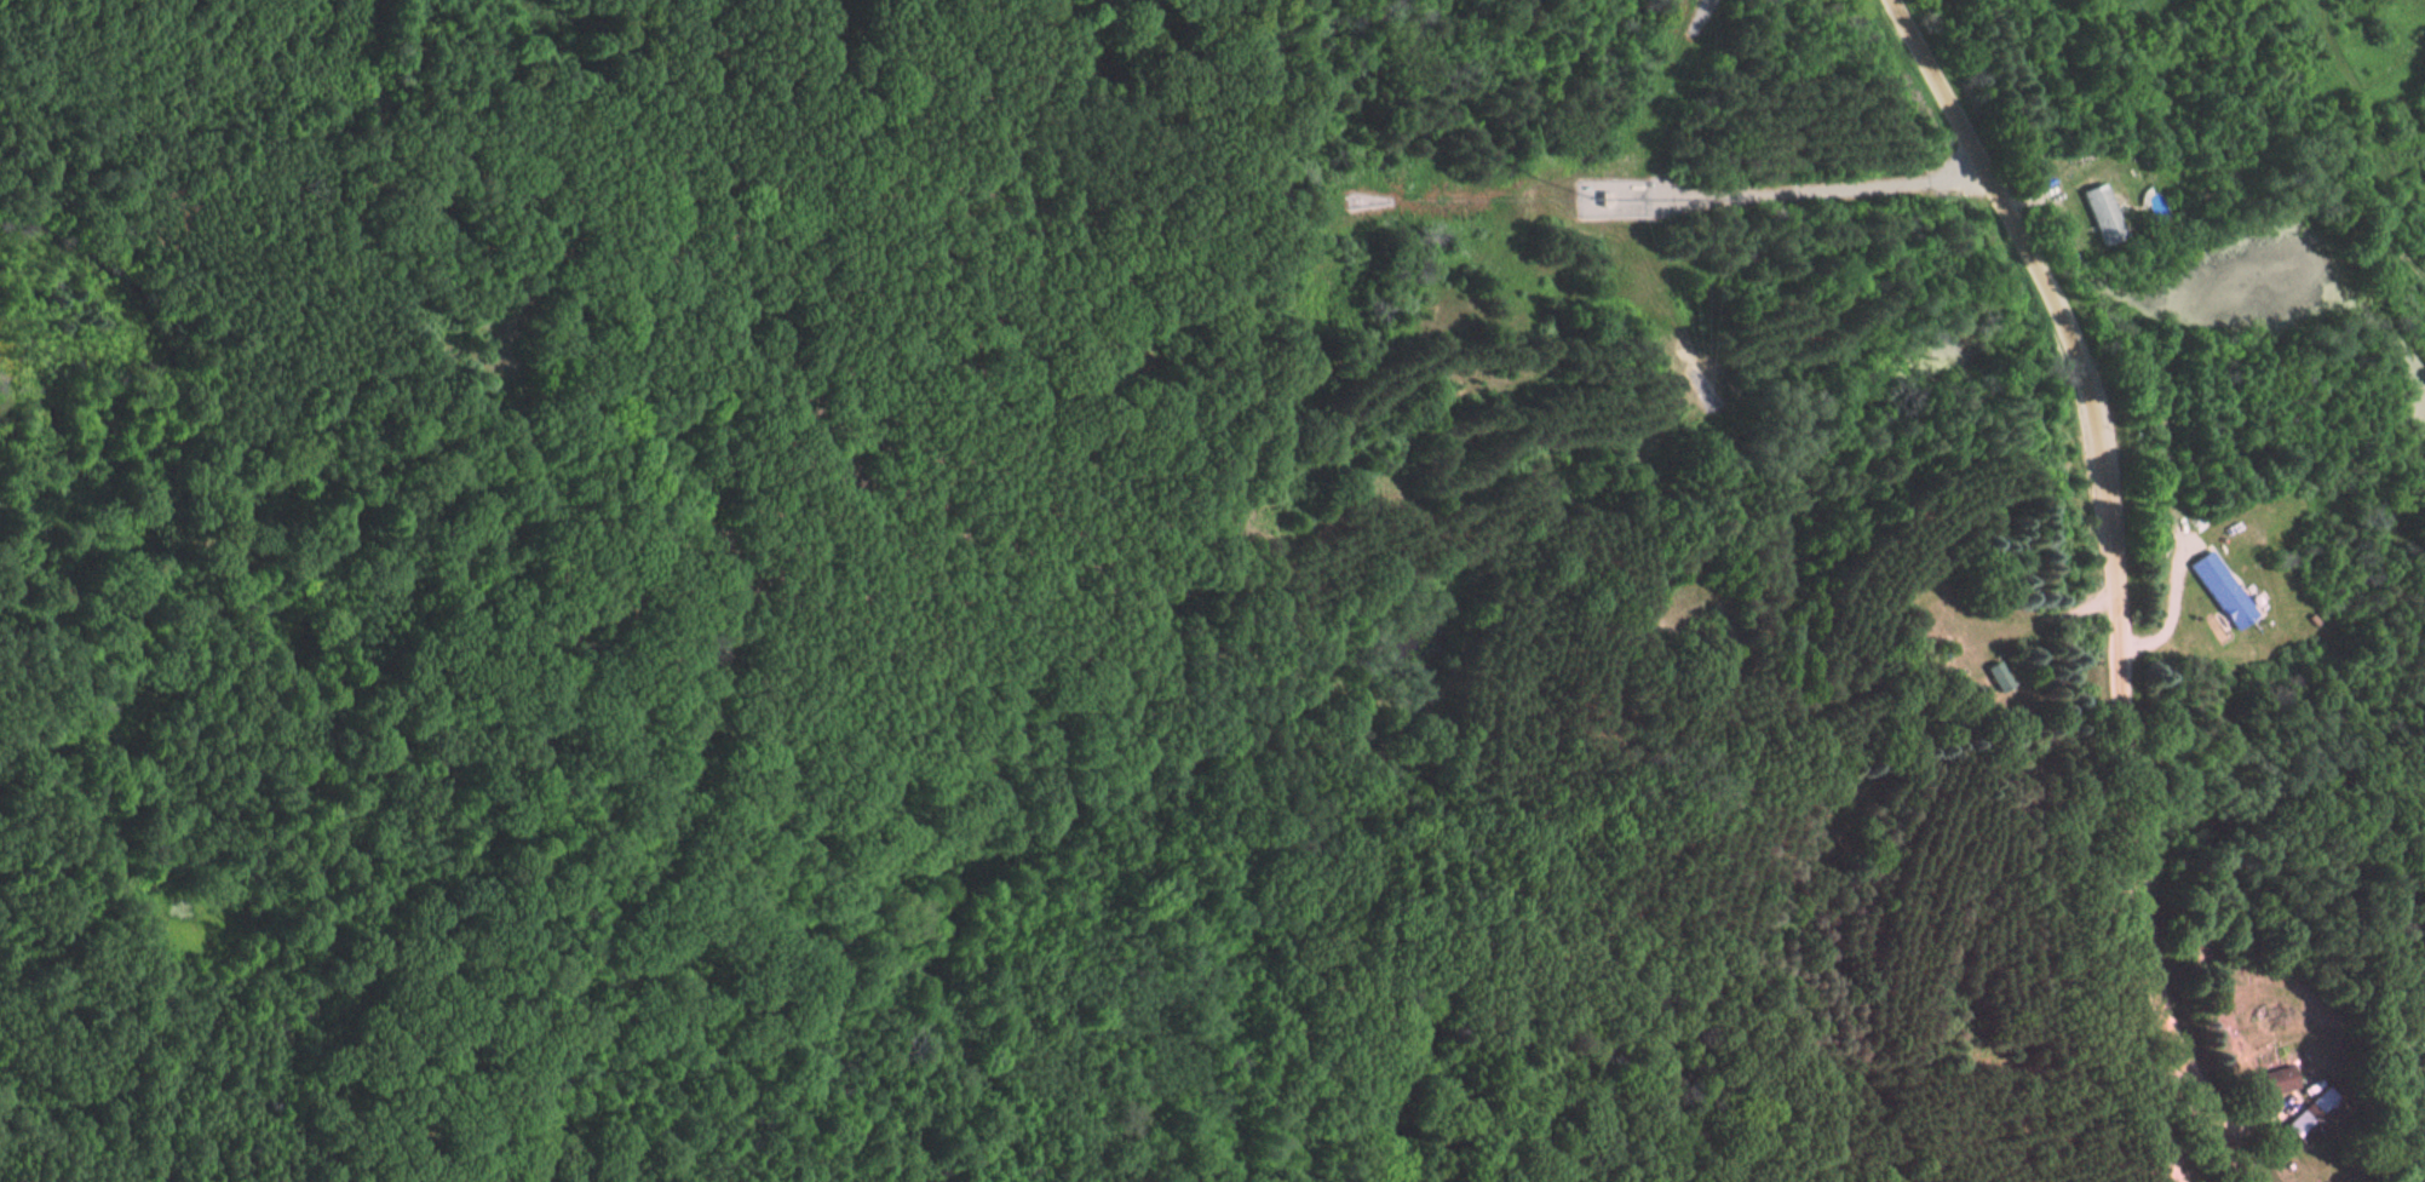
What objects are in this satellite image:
building: (2098, 216)
road: (2122, 581)
building: (2217, 592)
building: (2282, 1080)
road: (2161, 1117)

